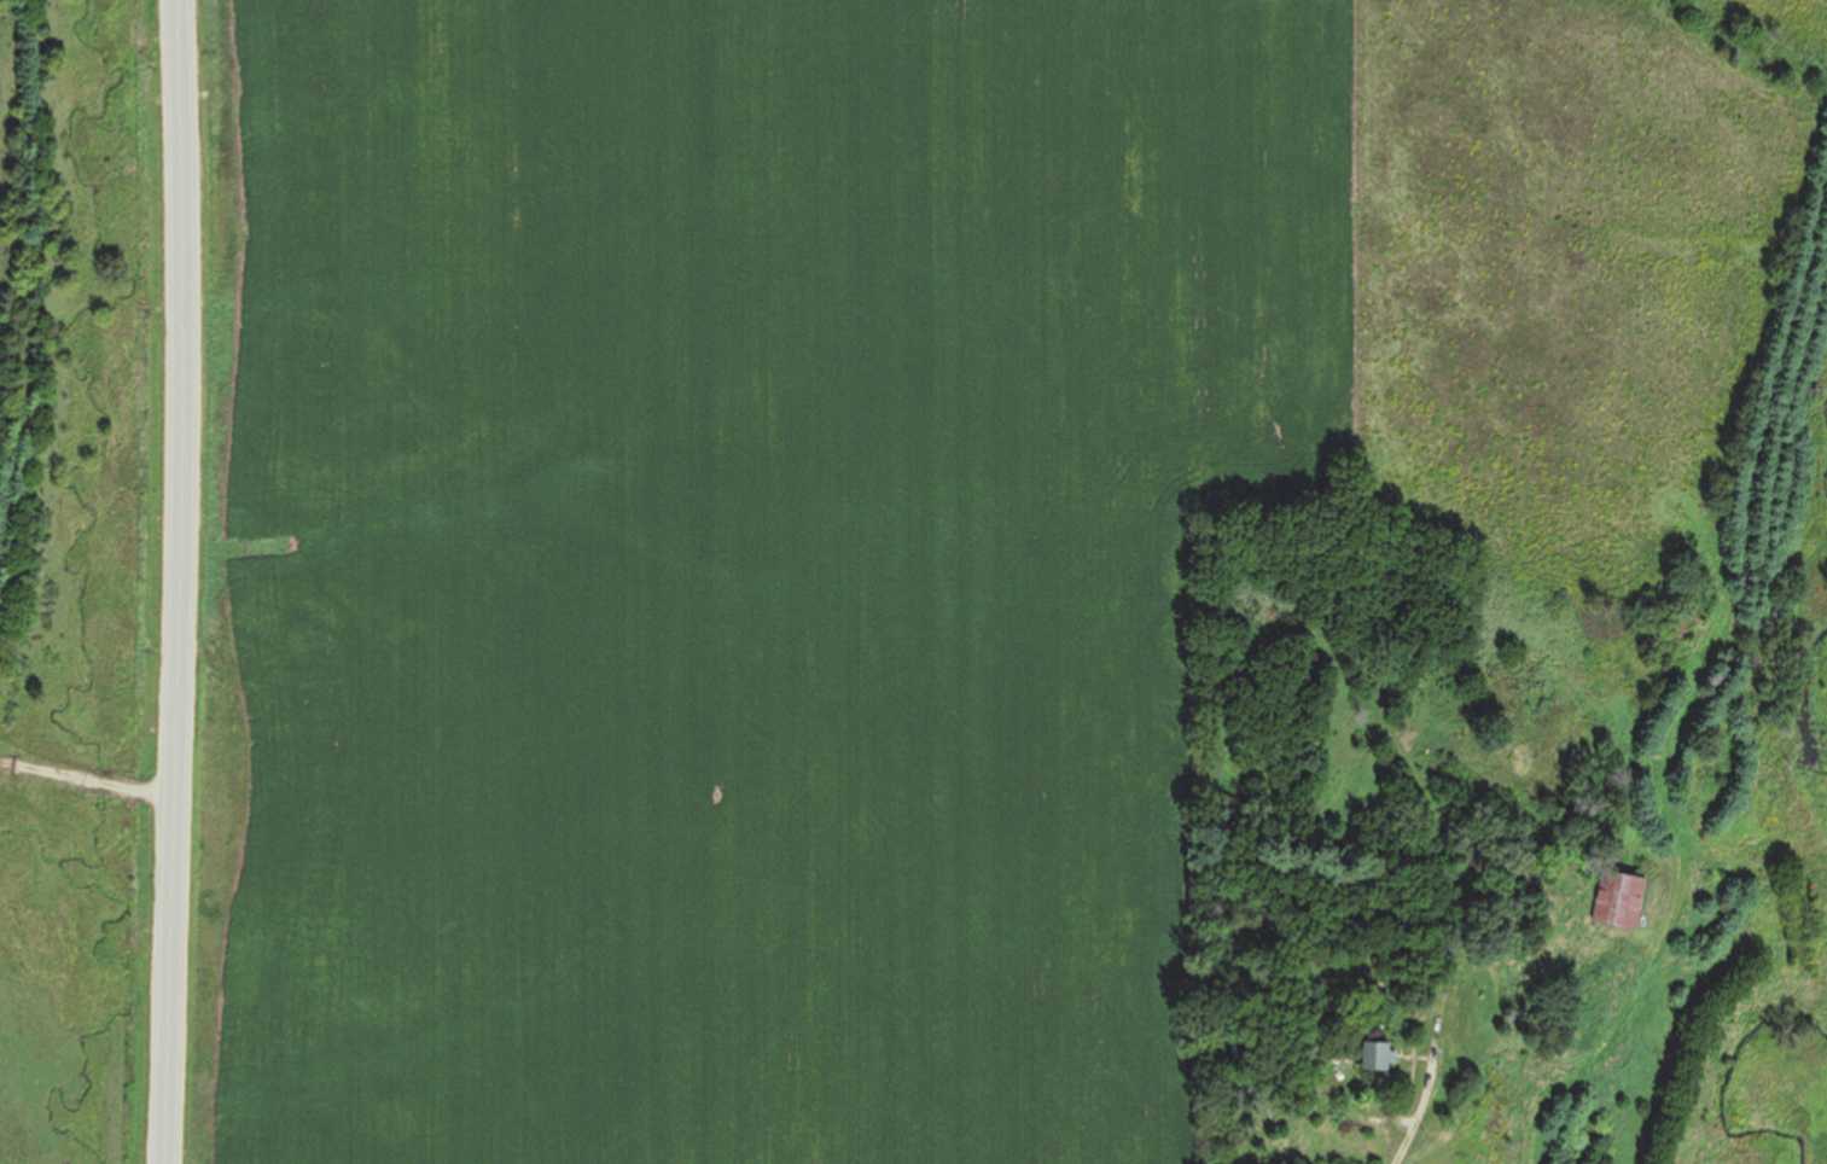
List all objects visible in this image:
road: (175, 582)
road: (86, 776)
building: (1618, 903)
road: (1413, 1032)
building: (1378, 1057)

